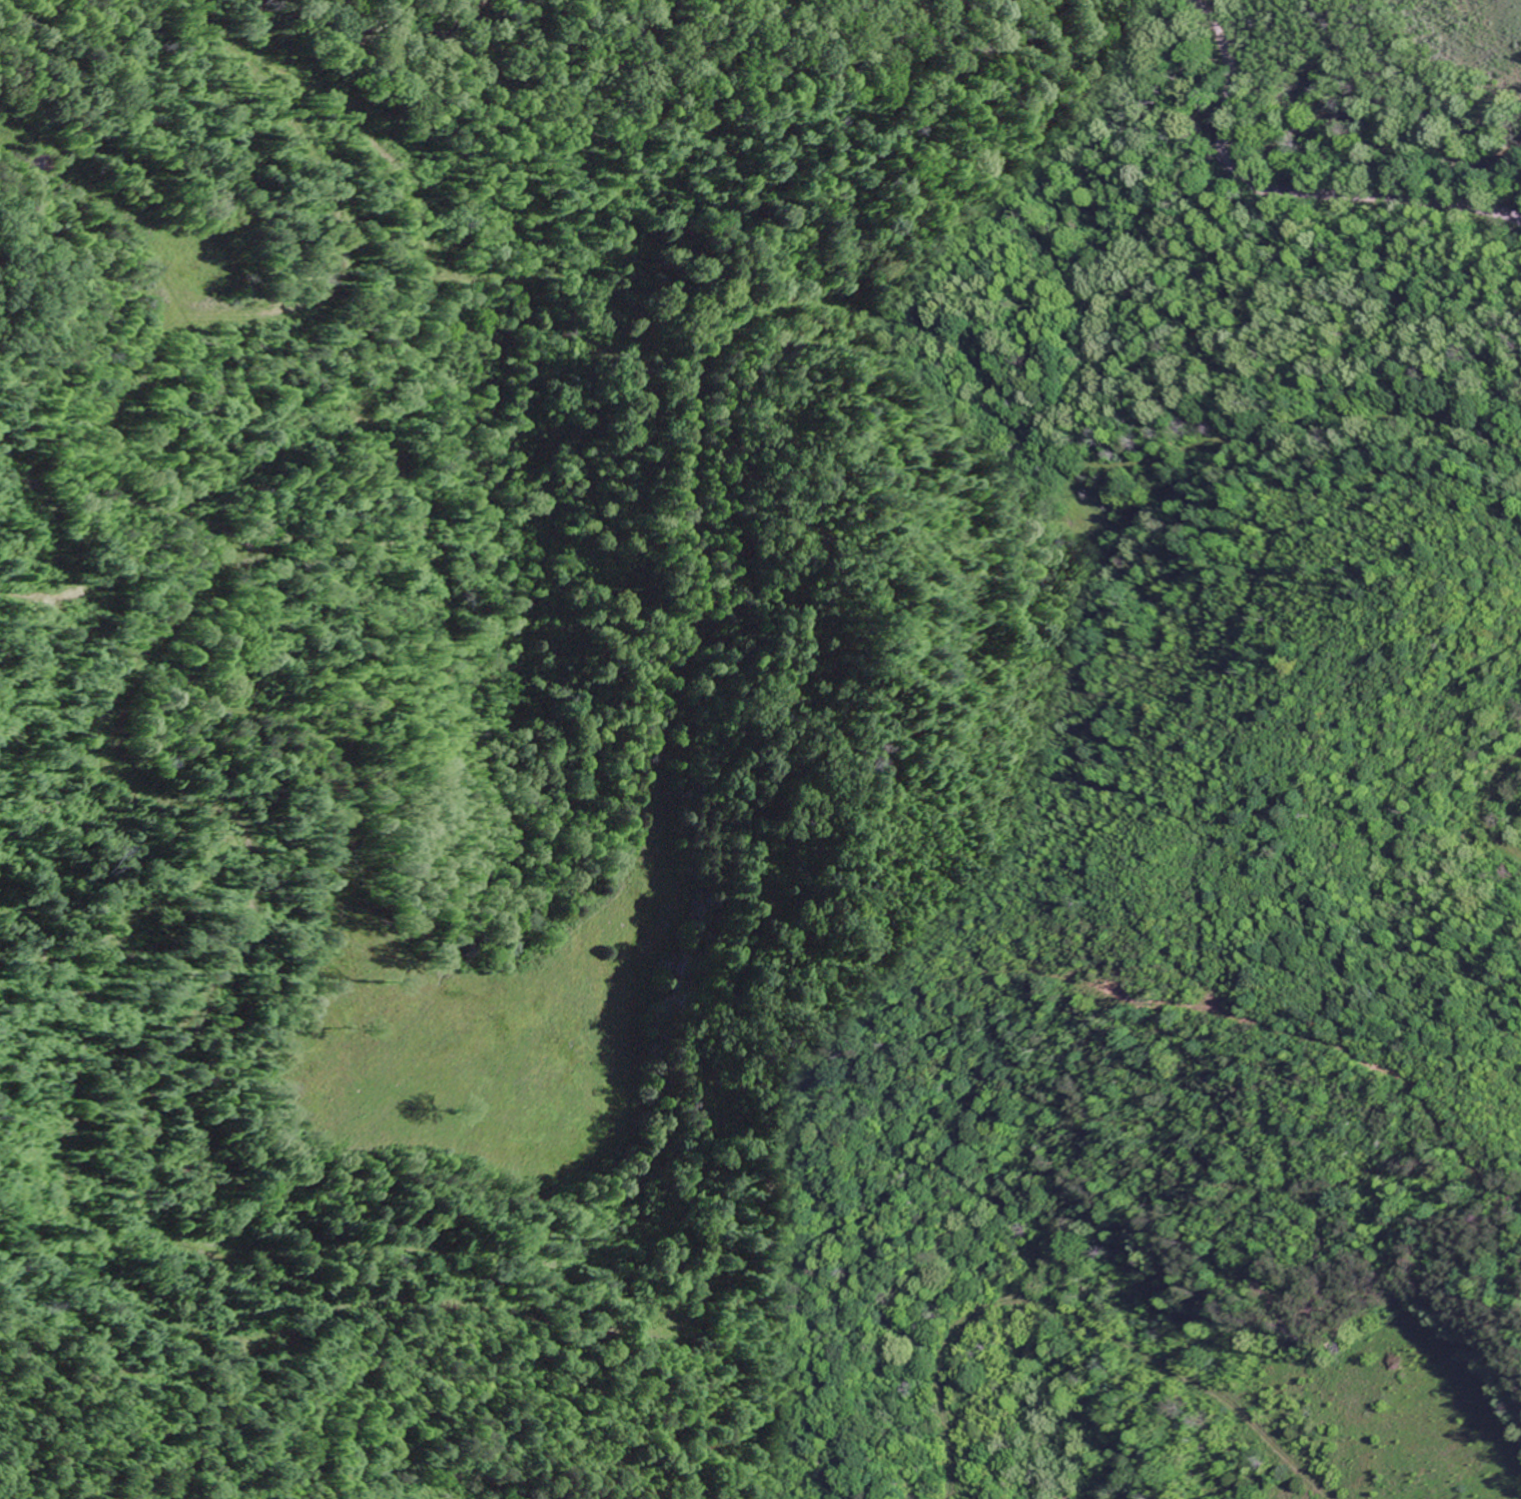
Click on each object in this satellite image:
road: (1282, 187)

